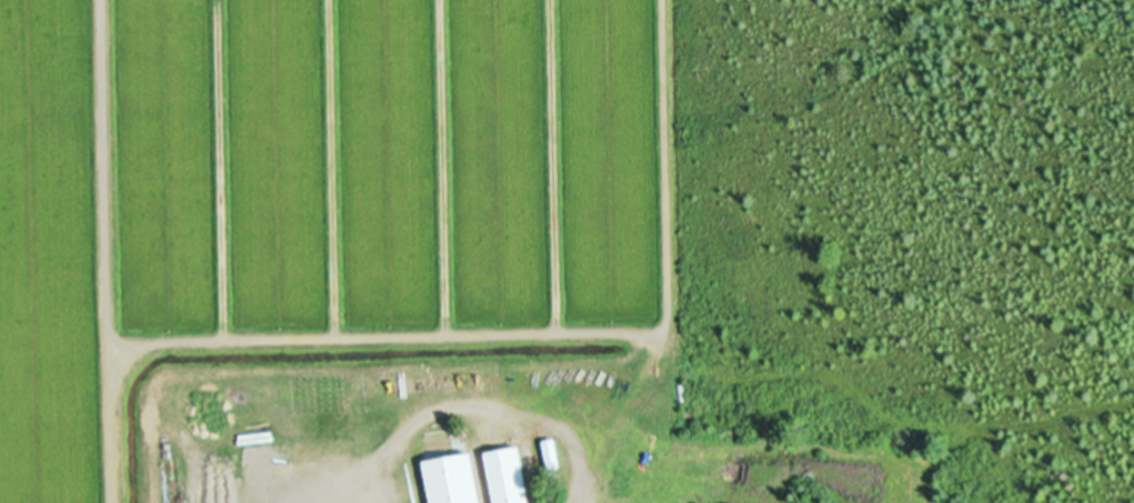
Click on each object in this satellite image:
crop: (320, 197)
building: (549, 456)
building: (504, 476)
building: (449, 480)

